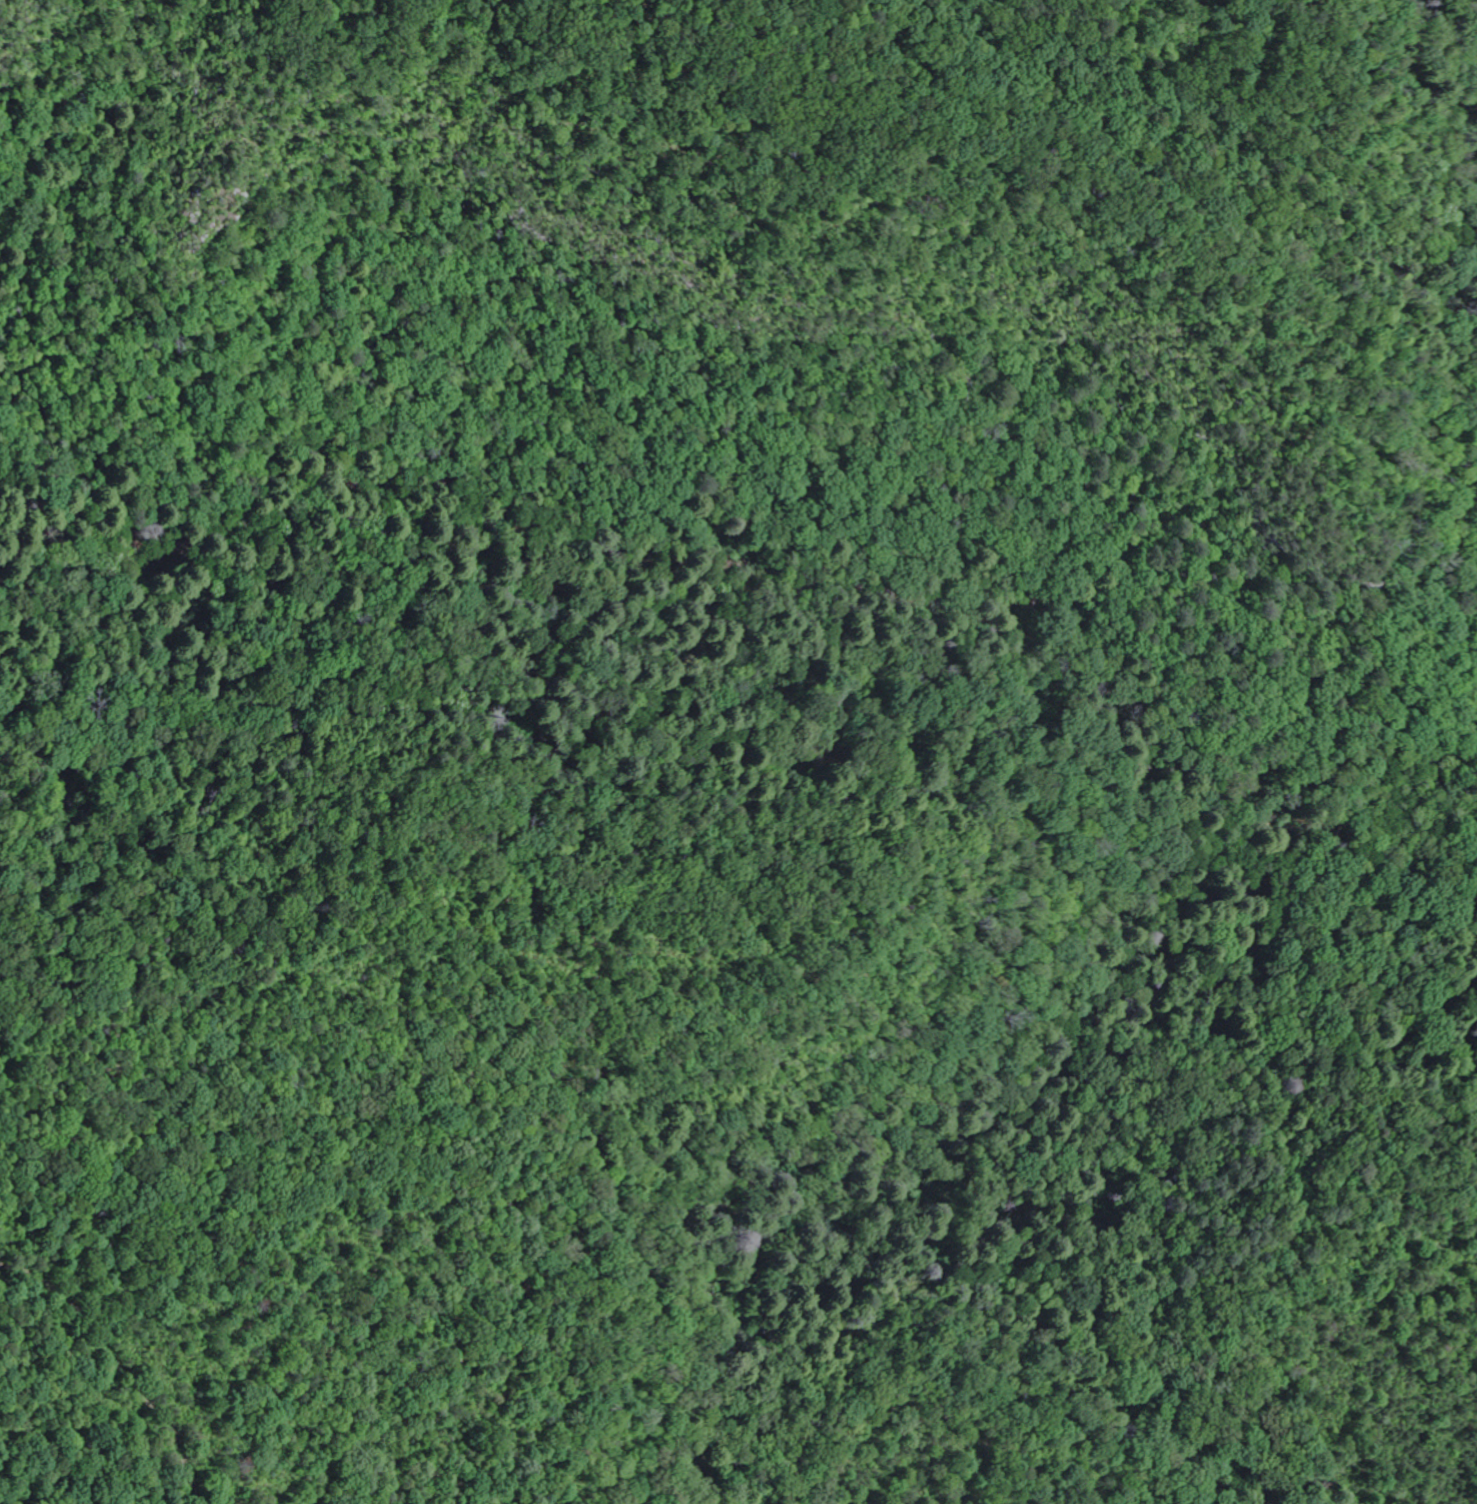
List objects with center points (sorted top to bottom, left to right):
road: (126, 1363)

